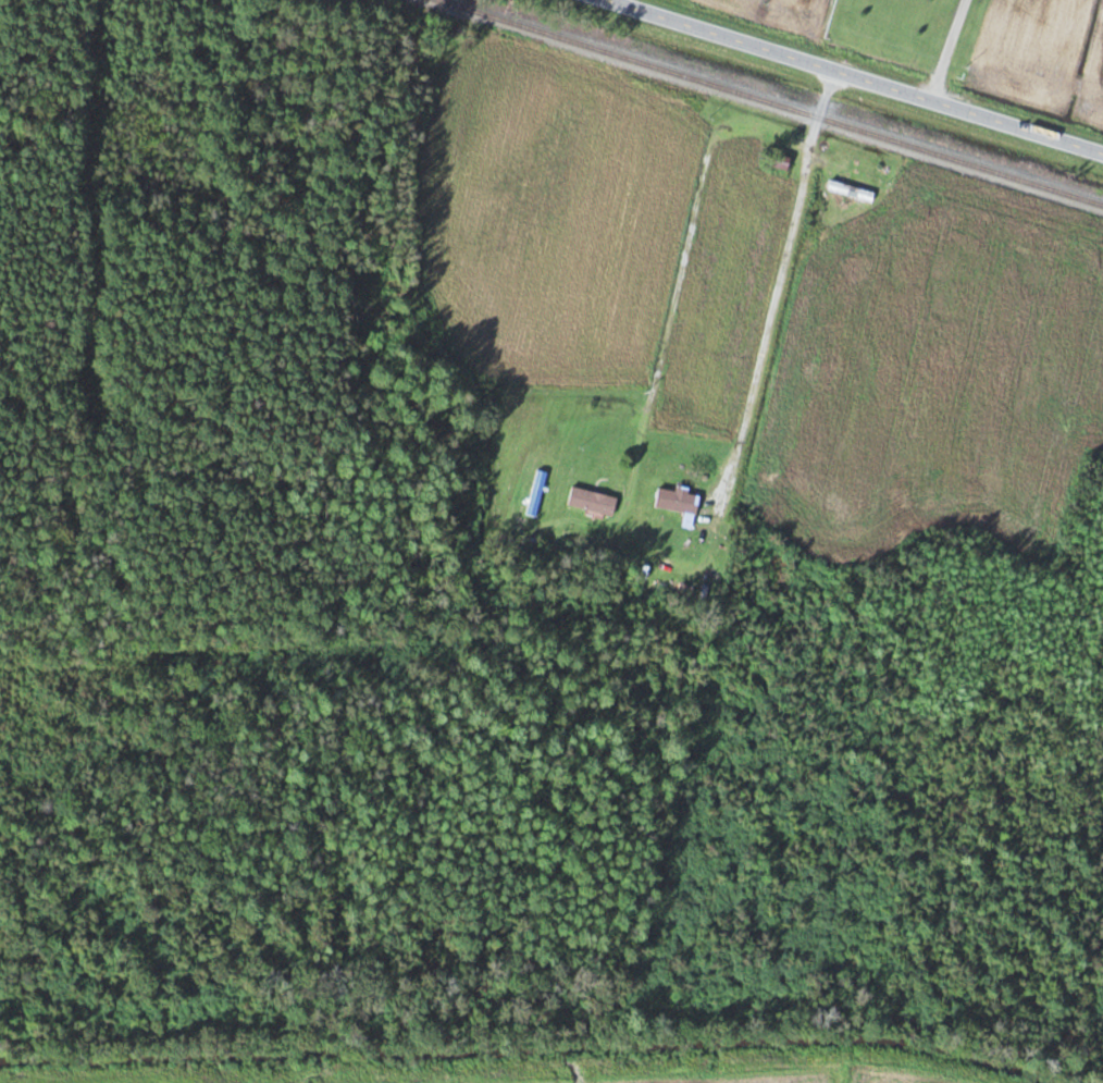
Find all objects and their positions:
road: (949, 50)
road: (853, 77)
railway: (773, 101)
building: (782, 161)
building: (852, 190)
road: (777, 290)
building: (537, 493)
building: (593, 501)
building: (679, 503)

